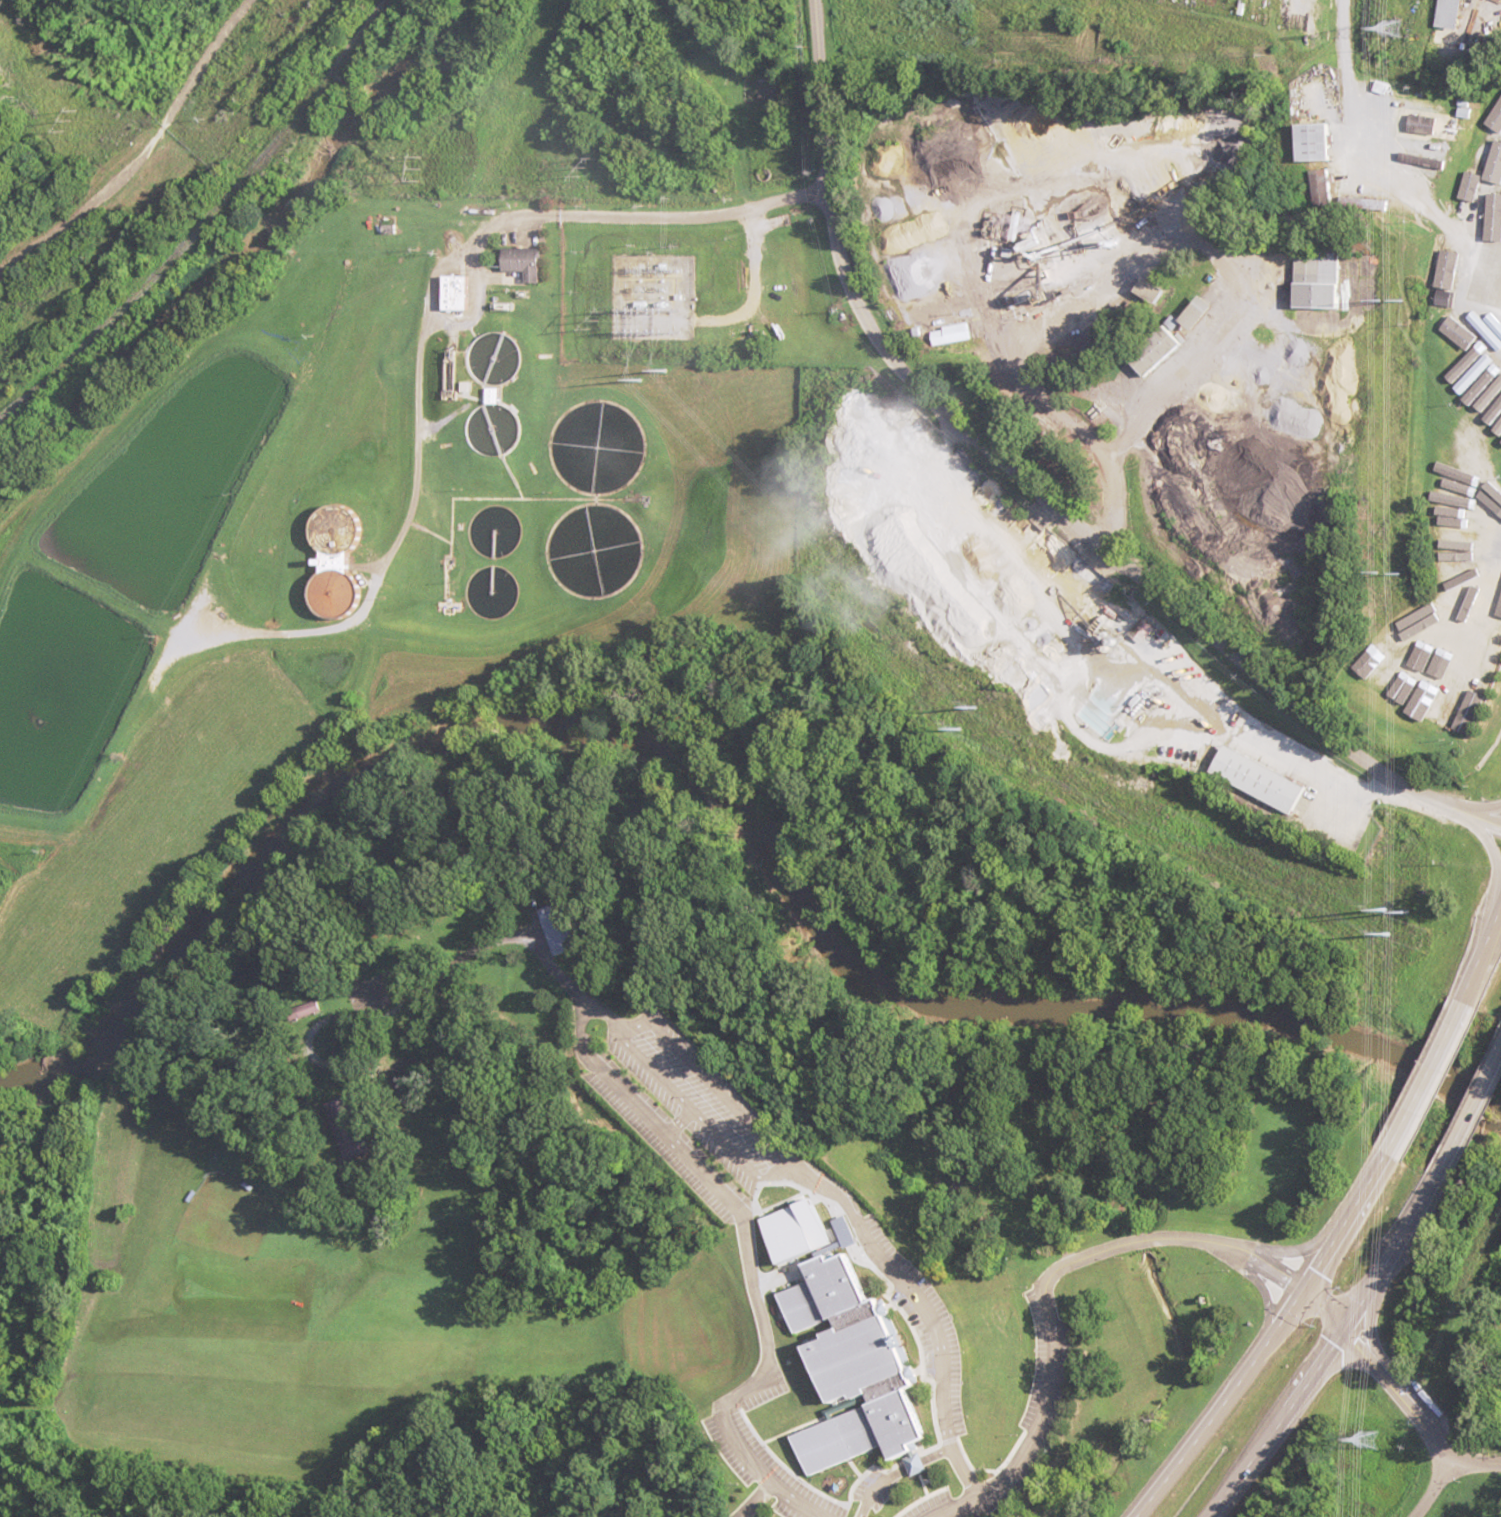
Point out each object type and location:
building: (1454, 14)
power tower: (1399, 28)
building: (1499, 119)
railway: (202, 218)
building: (529, 262)
building: (1319, 282)
building: (459, 292)
power substation: (652, 296)
power tower: (1404, 300)
building: (1196, 317)
building: (1160, 350)
road: (1040, 491)
wastewater plant: (362, 525)
building: (346, 593)
building: (1468, 663)
building: (1414, 696)
building: (1475, 707)
building: (1438, 712)
building: (1265, 780)
building: (562, 929)
road: (1341, 1233)
road: (792, 1235)
road: (1048, 1280)
road: (1370, 1294)
building: (857, 1370)
road: (1396, 1390)
power tower: (1369, 1439)
road: (1477, 1469)
road: (1446, 1489)

